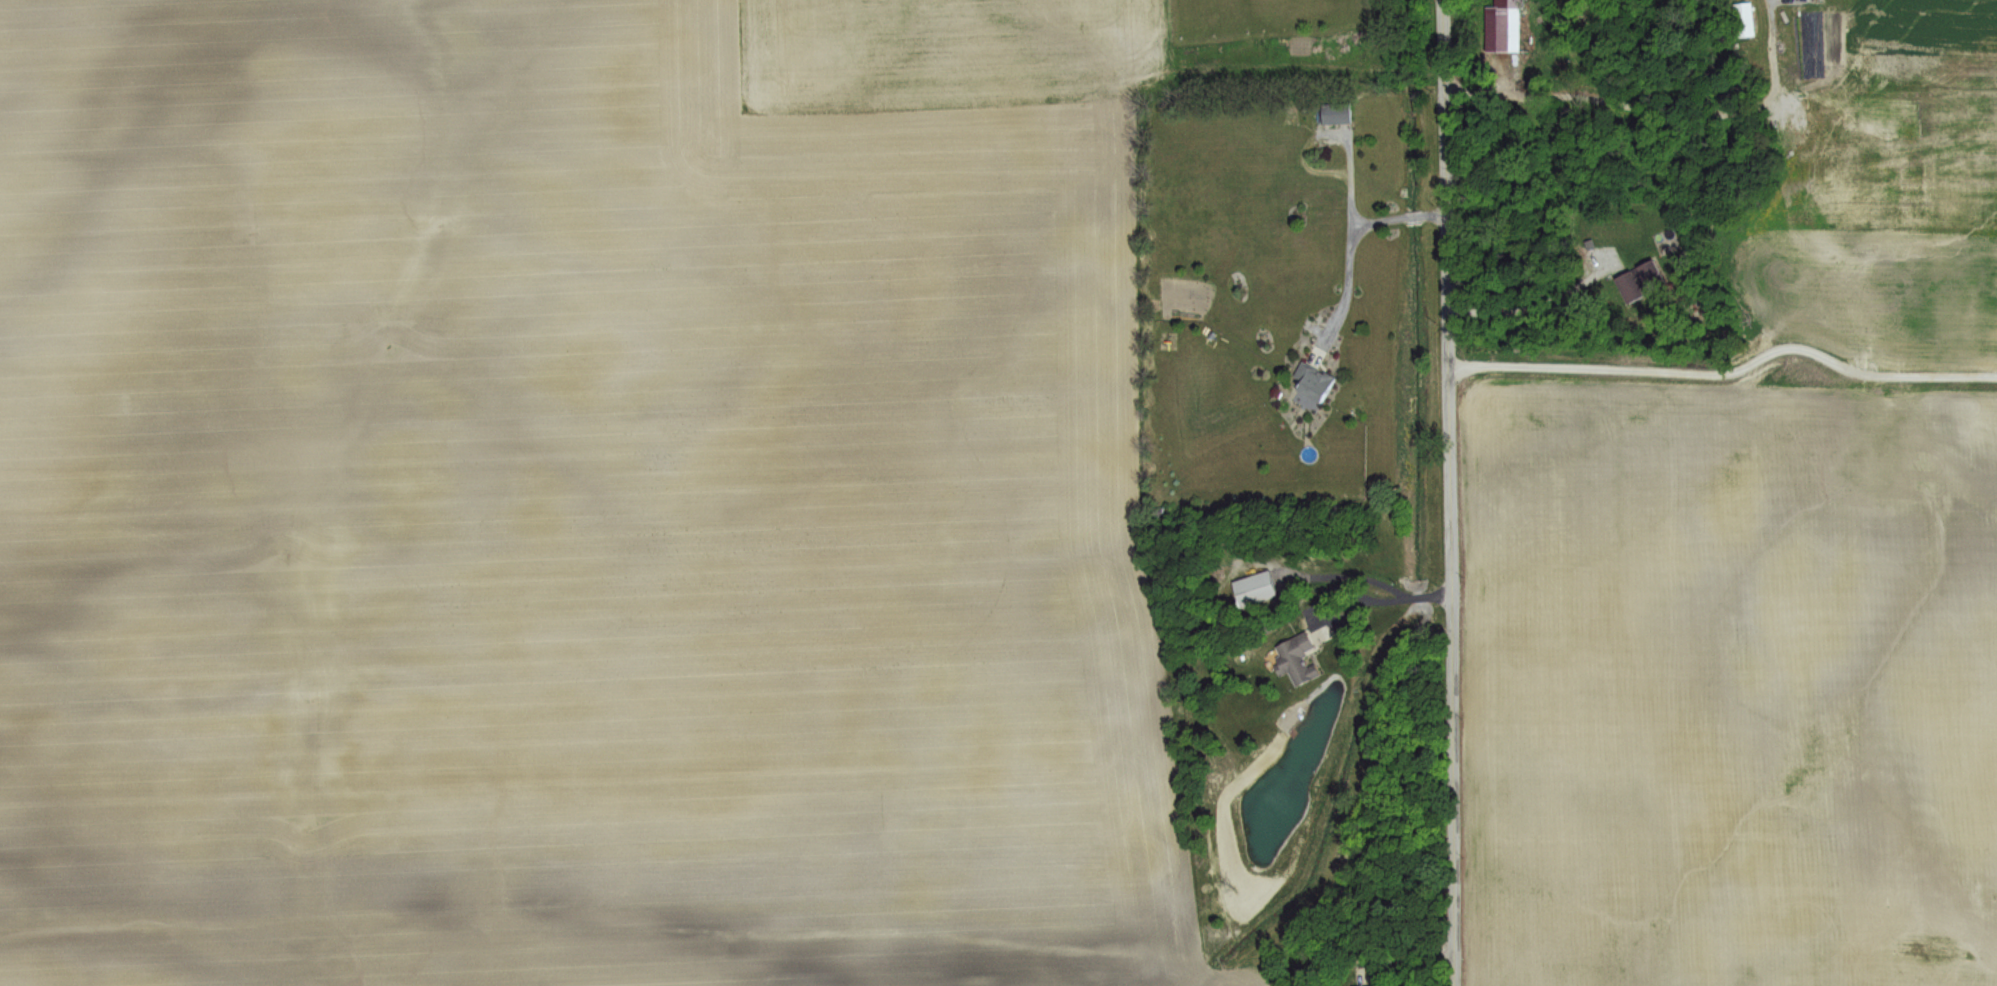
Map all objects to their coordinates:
building: (1742, 19)
building: (1496, 32)
road: (1655, 105)
building: (1333, 112)
road: (1359, 220)
road: (1349, 279)
building: (1637, 281)
road: (1533, 300)
road: (1728, 371)
building: (1311, 382)
road: (1448, 493)
building: (1252, 587)
road: (1352, 591)
building: (1293, 659)

